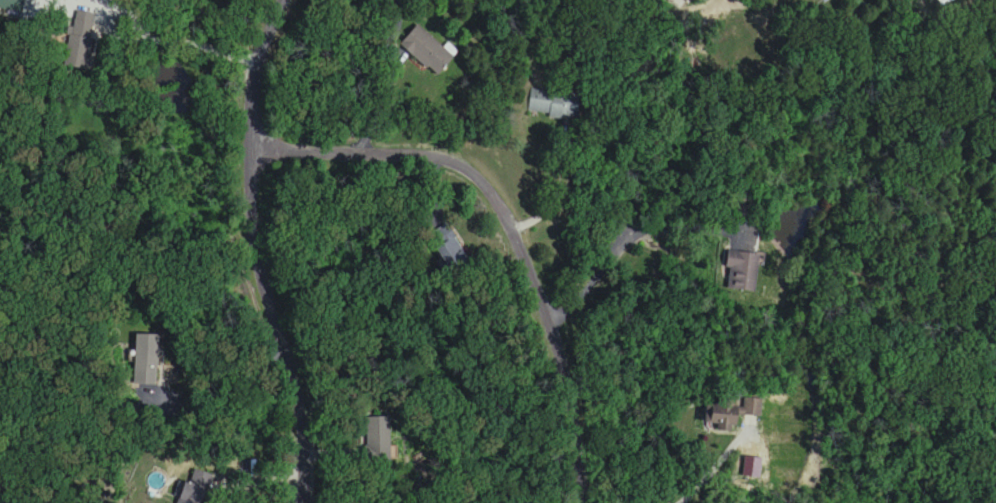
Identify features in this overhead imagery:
road: (396, 21)
building: (79, 41)
road: (180, 41)
building: (426, 50)
building: (554, 103)
road: (629, 170)
road: (629, 236)
road: (254, 251)
building: (449, 252)
building: (740, 271)
road: (547, 323)
building: (145, 359)
road: (220, 382)
building: (722, 419)
building: (378, 439)
road: (721, 473)
road: (236, 478)
building: (194, 489)

